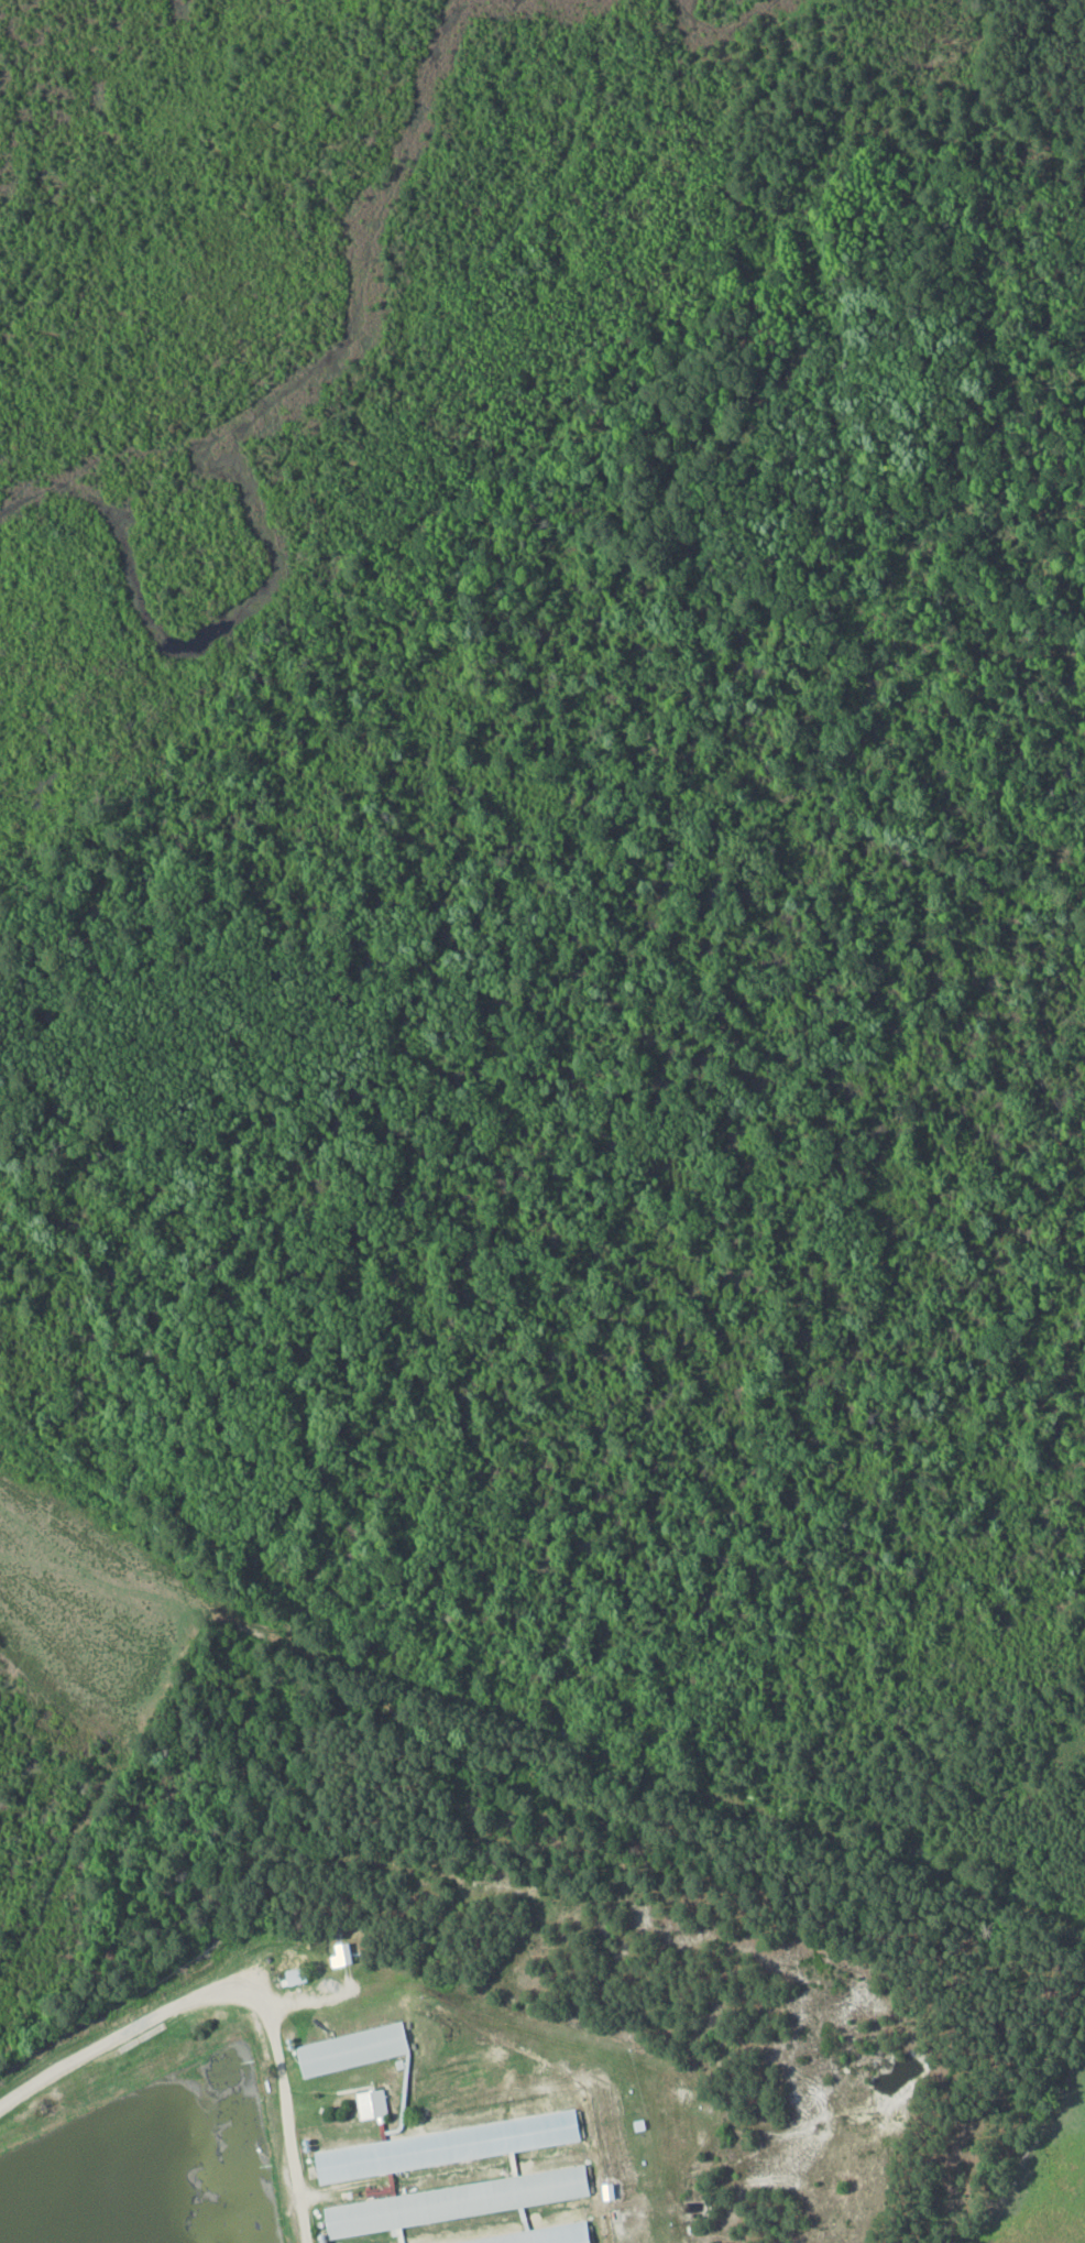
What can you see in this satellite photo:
building: (295, 1975)
road: (75, 2058)
building: (371, 2103)
building: (446, 2145)
building: (467, 2212)

